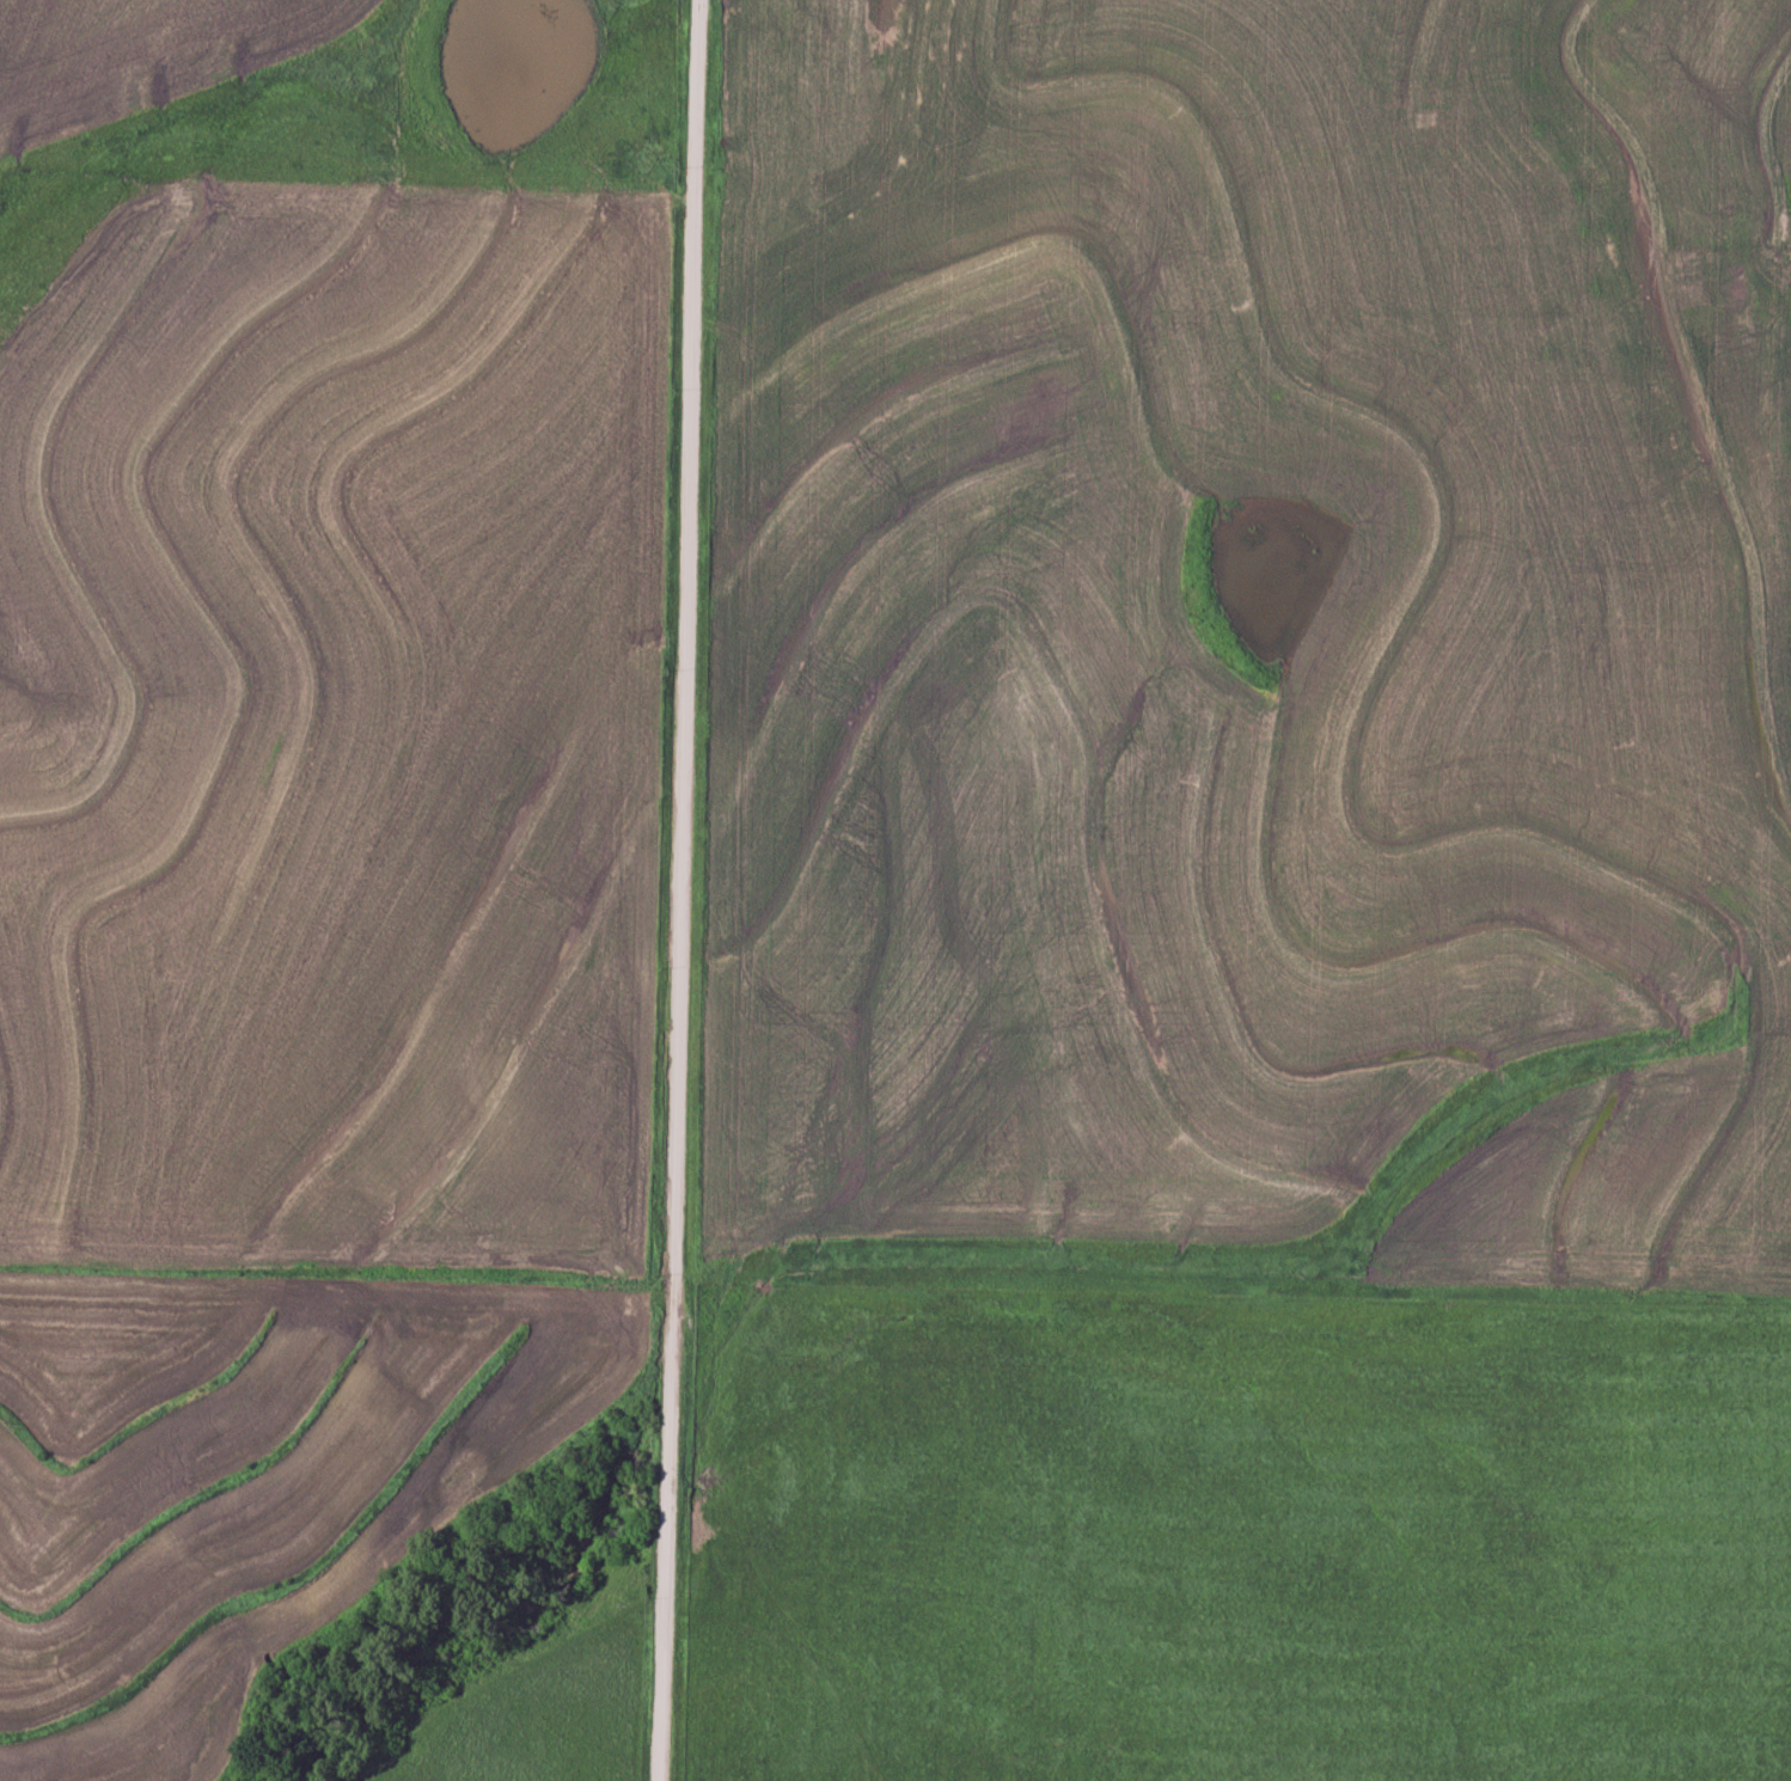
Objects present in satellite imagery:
road: (676, 889)

